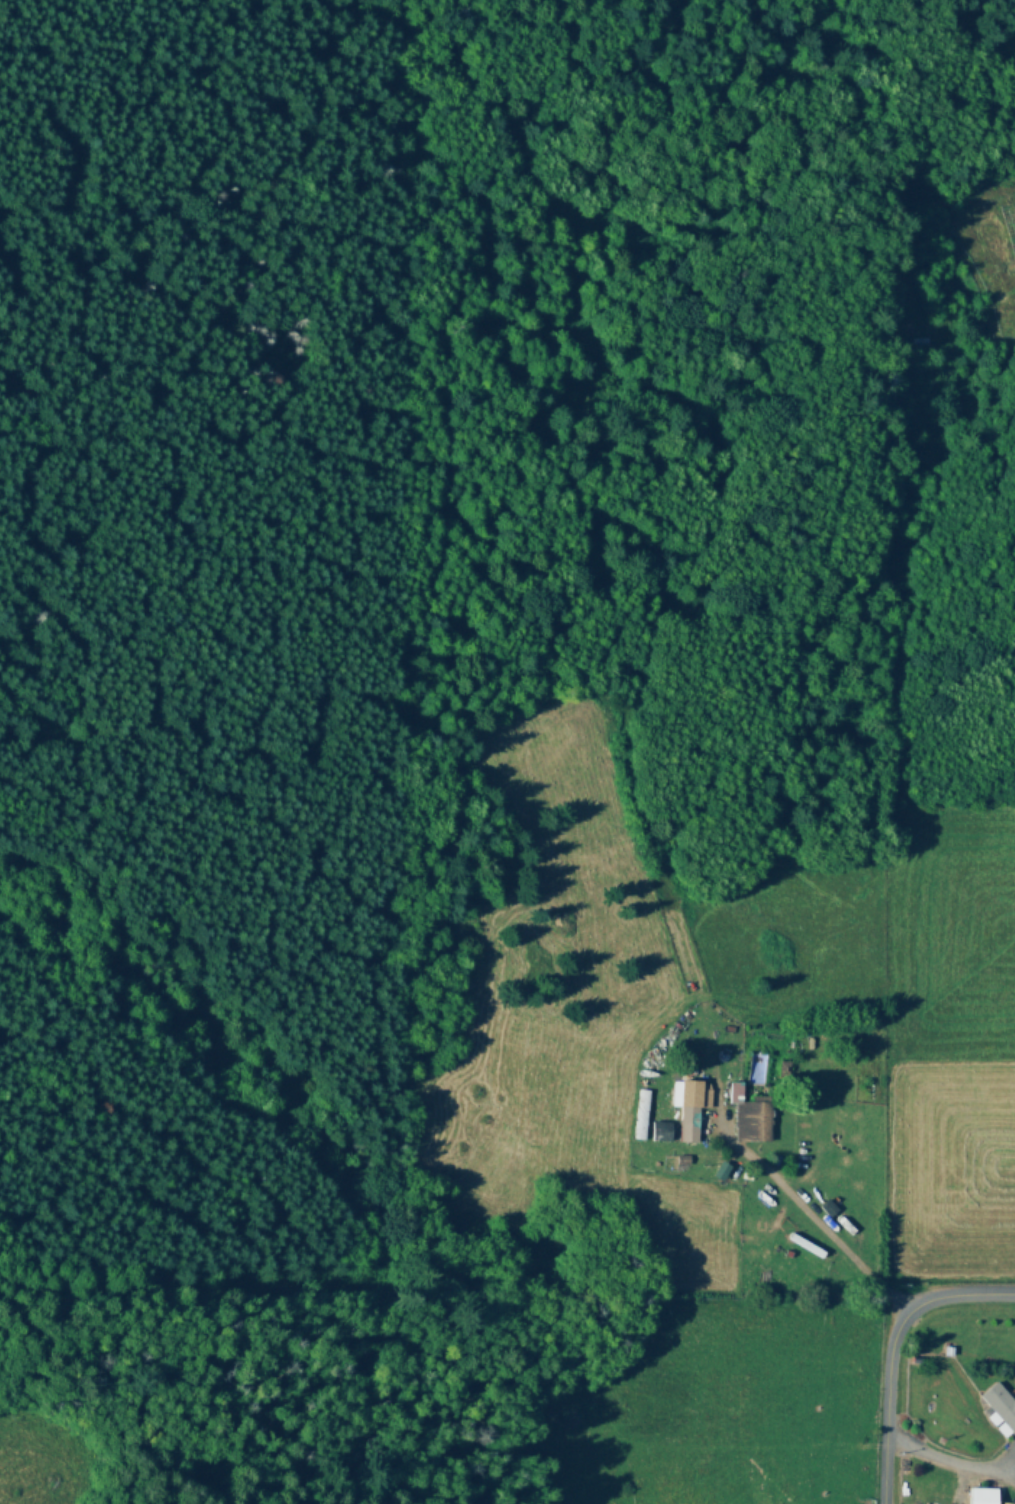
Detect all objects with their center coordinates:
building: (737, 1094)
building: (643, 1116)
building: (694, 1118)
building: (758, 1123)
building: (662, 1132)
road: (757, 1200)
road: (885, 1342)
building: (1001, 1410)
road: (948, 1457)
building: (984, 1496)

